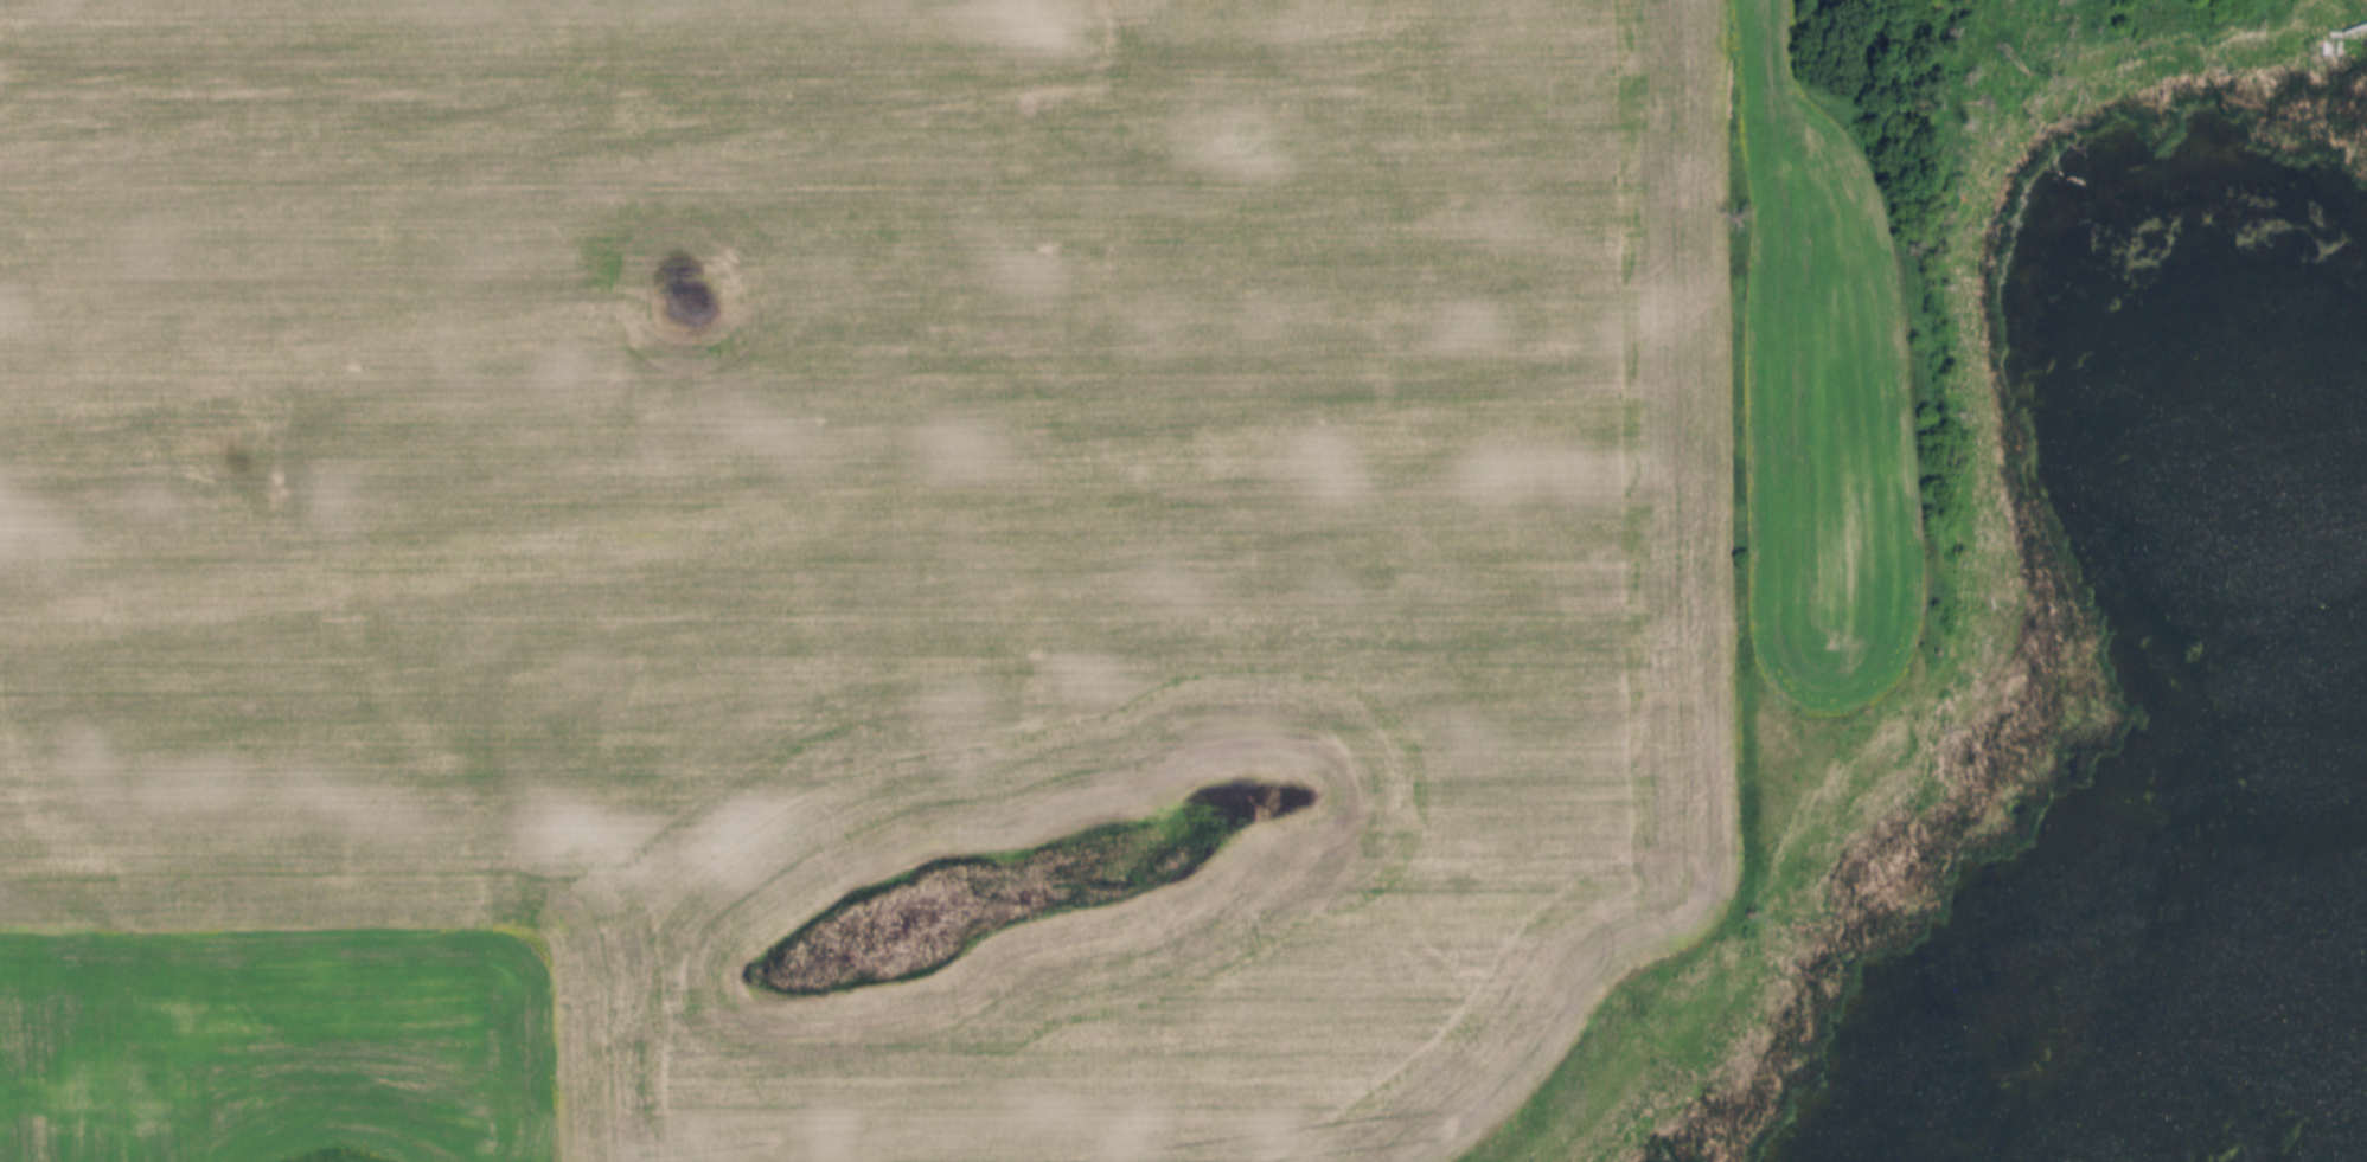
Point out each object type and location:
building: (2339, 68)

